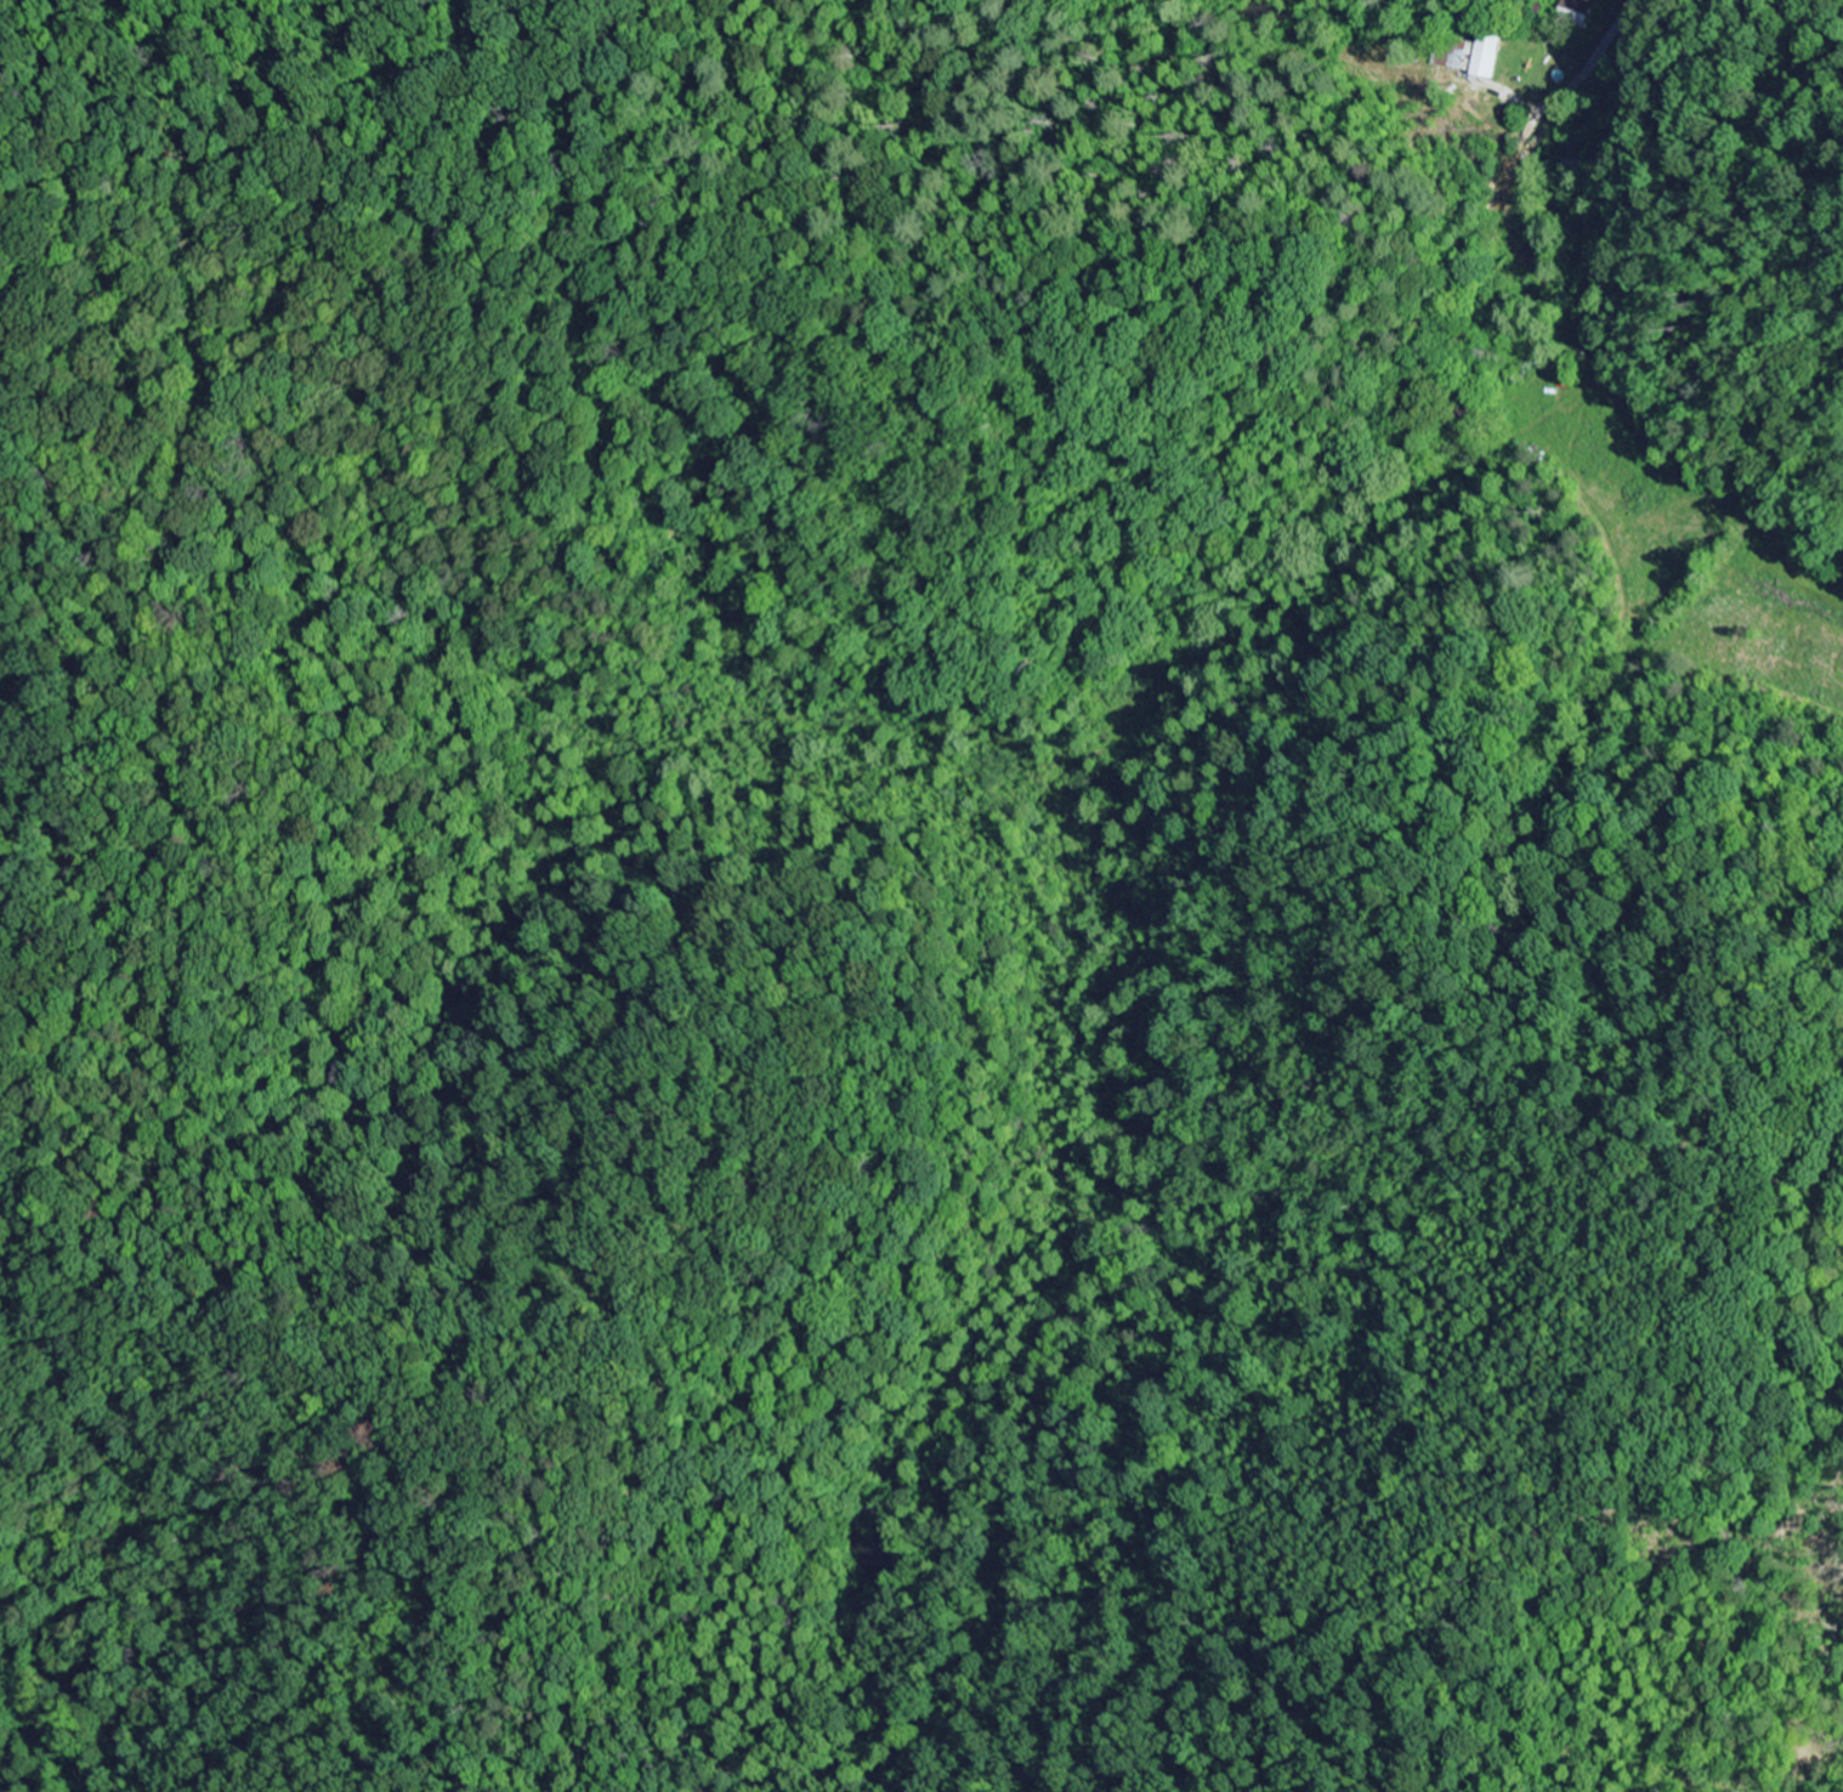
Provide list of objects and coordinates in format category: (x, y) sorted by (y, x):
building: (1474, 58)

